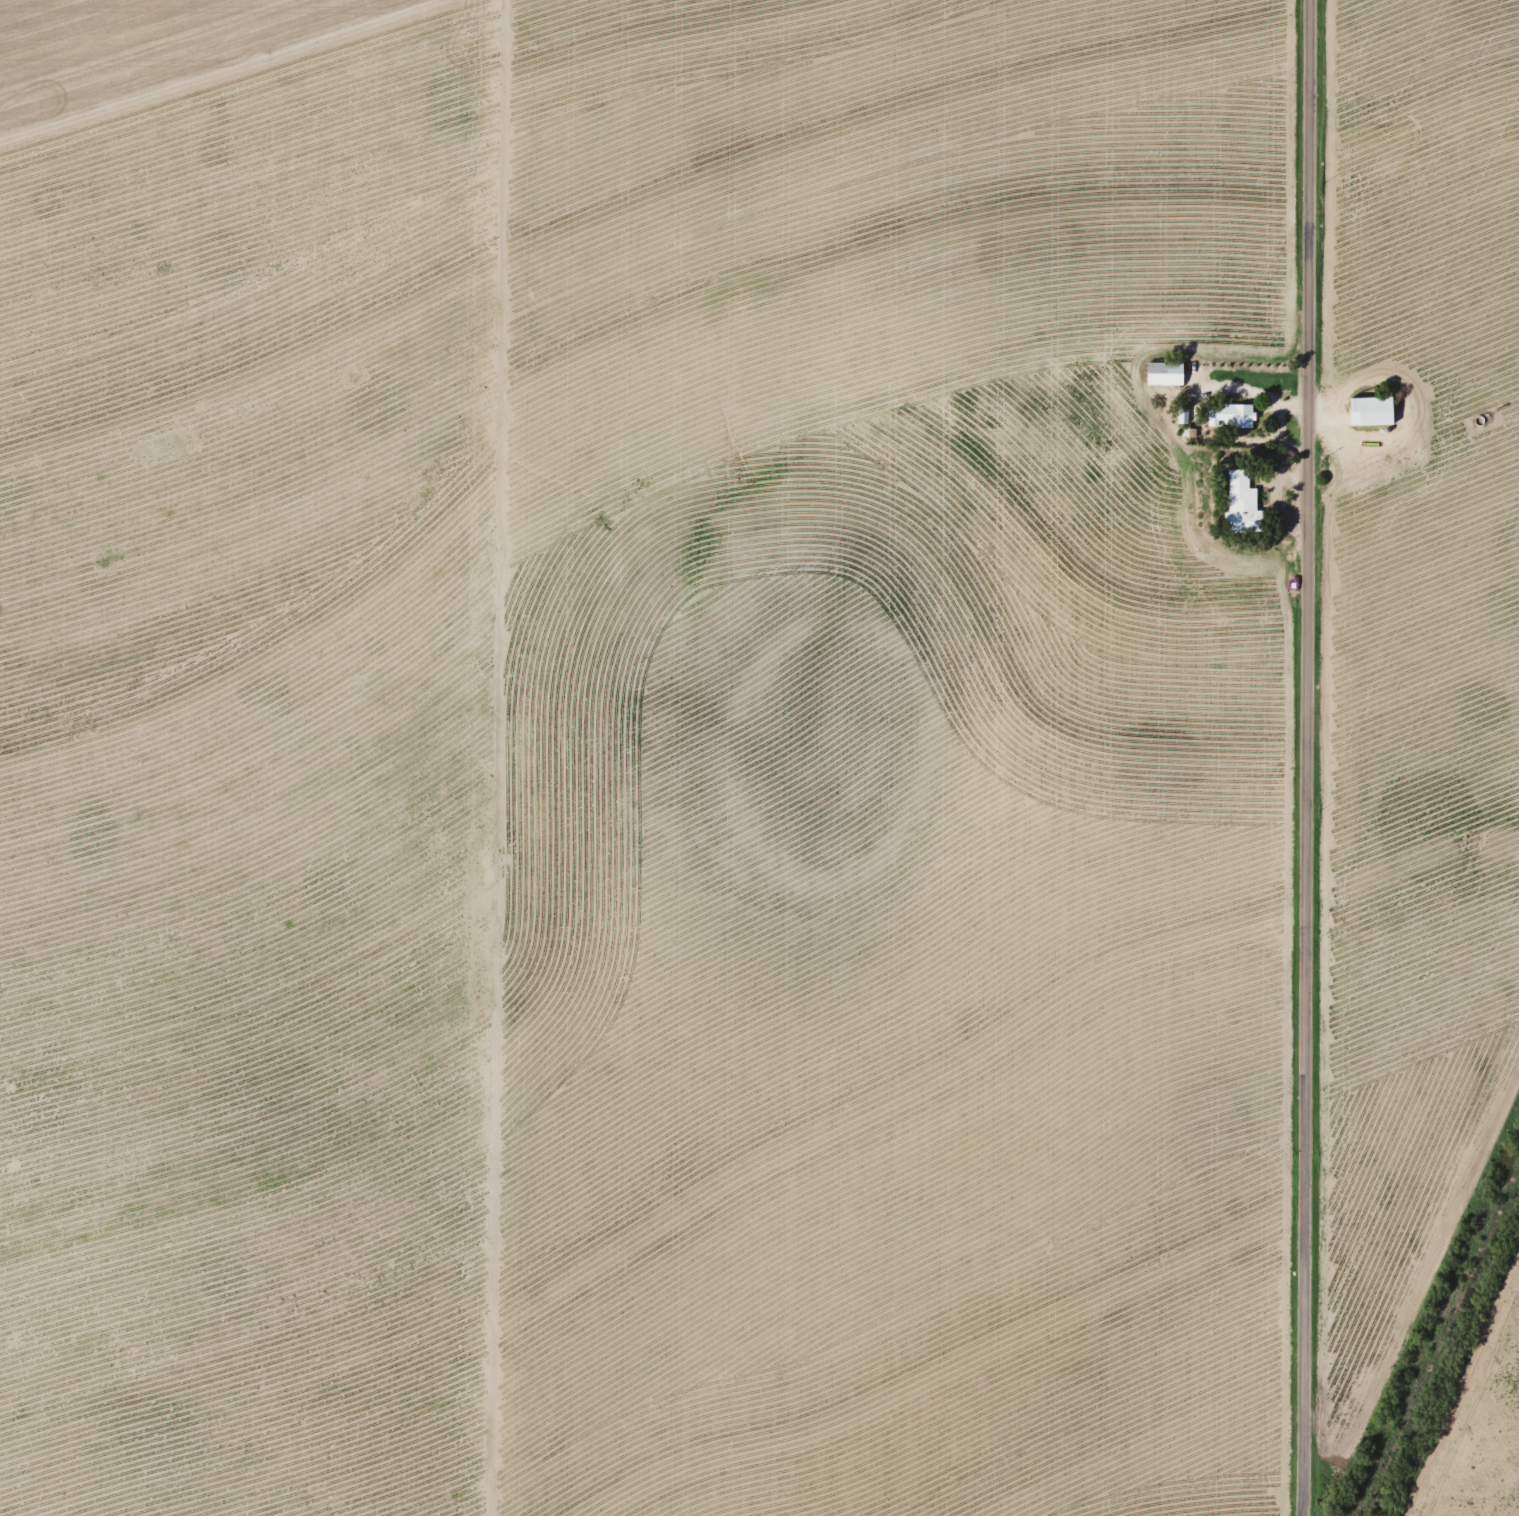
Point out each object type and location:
building: (1163, 373)
building: (1369, 410)
road: (1301, 758)
railway: (1440, 1340)

